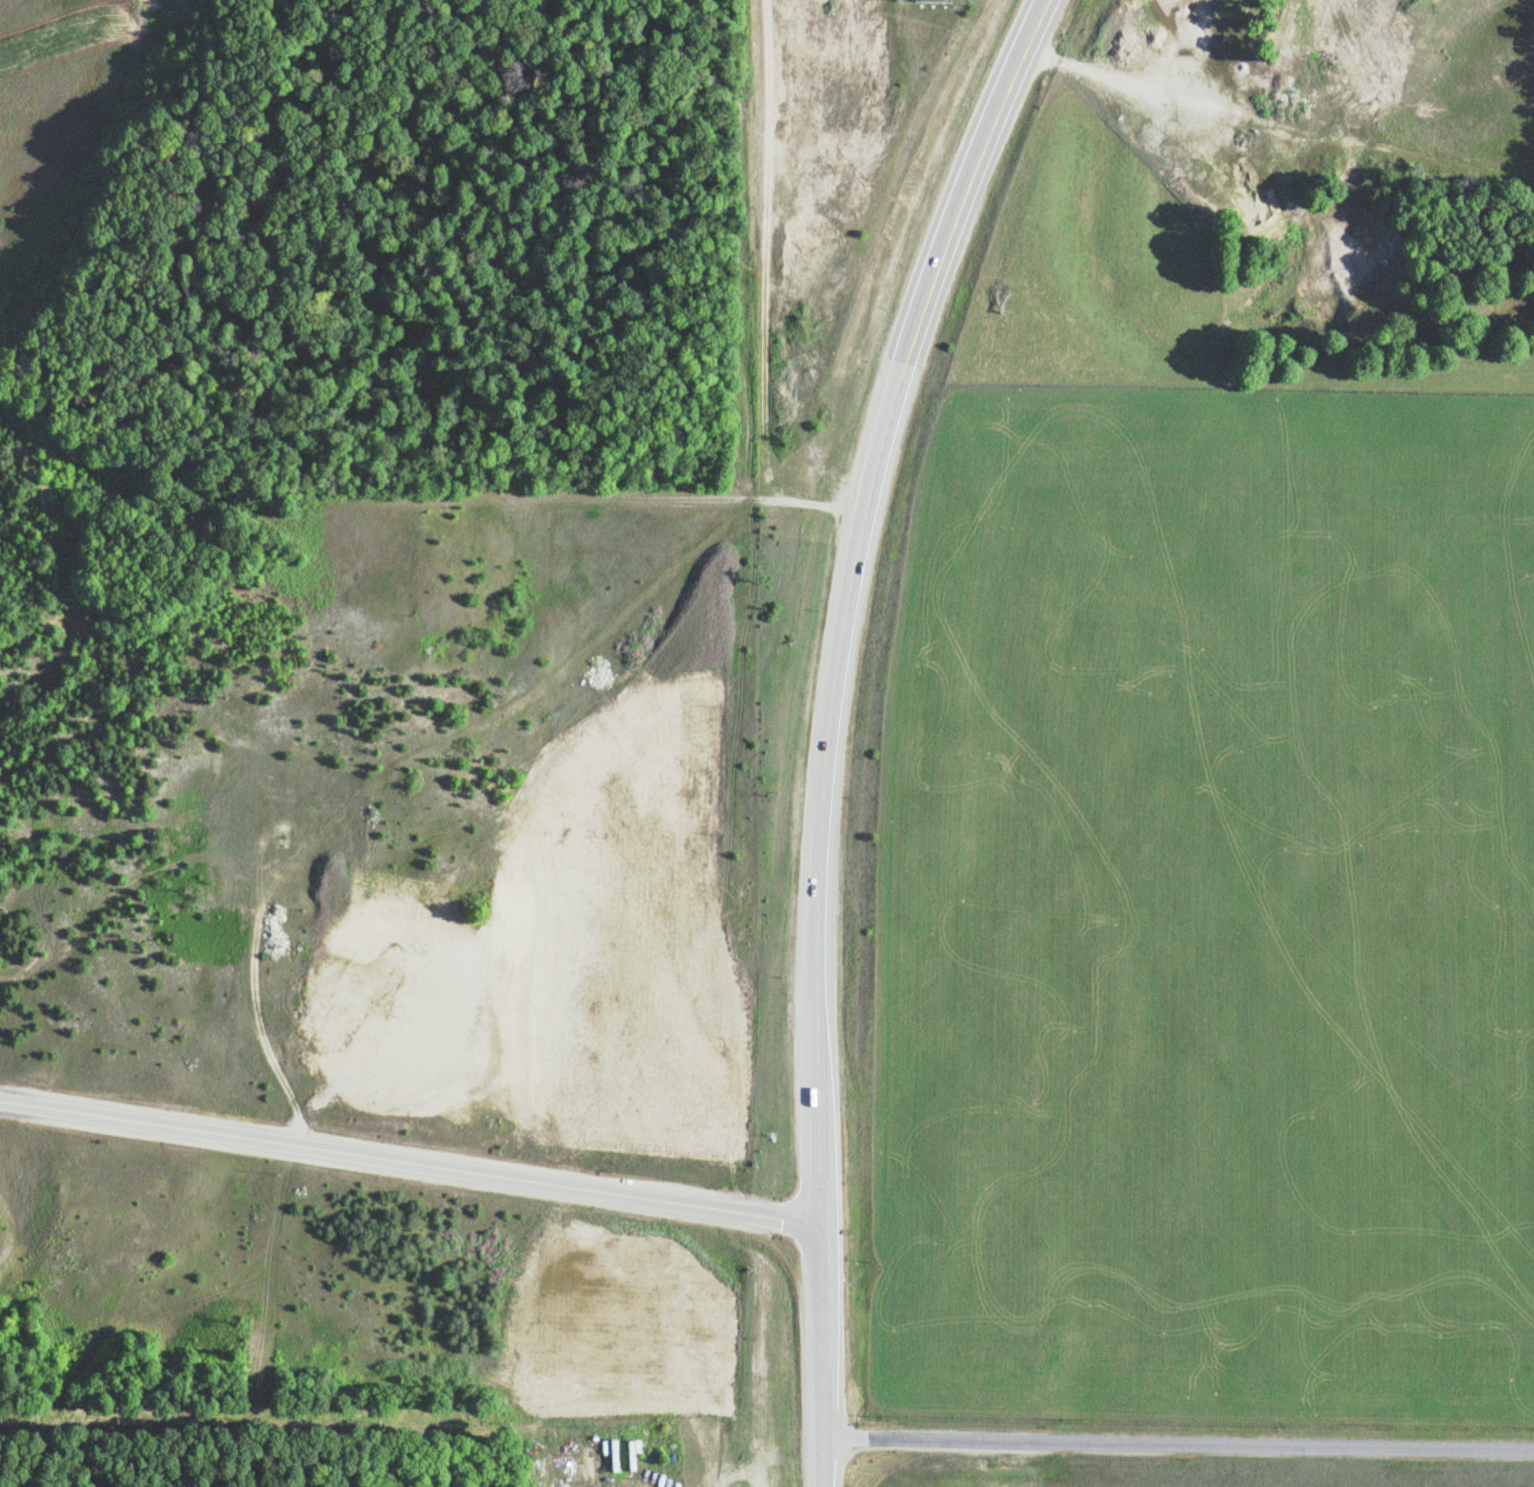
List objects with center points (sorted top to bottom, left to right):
road: (762, 249)
road: (569, 497)
road: (803, 505)
road: (845, 593)
road: (535, 683)
road: (279, 819)
road: (253, 1025)
road: (408, 1158)
road: (819, 1353)
road: (1177, 1435)

